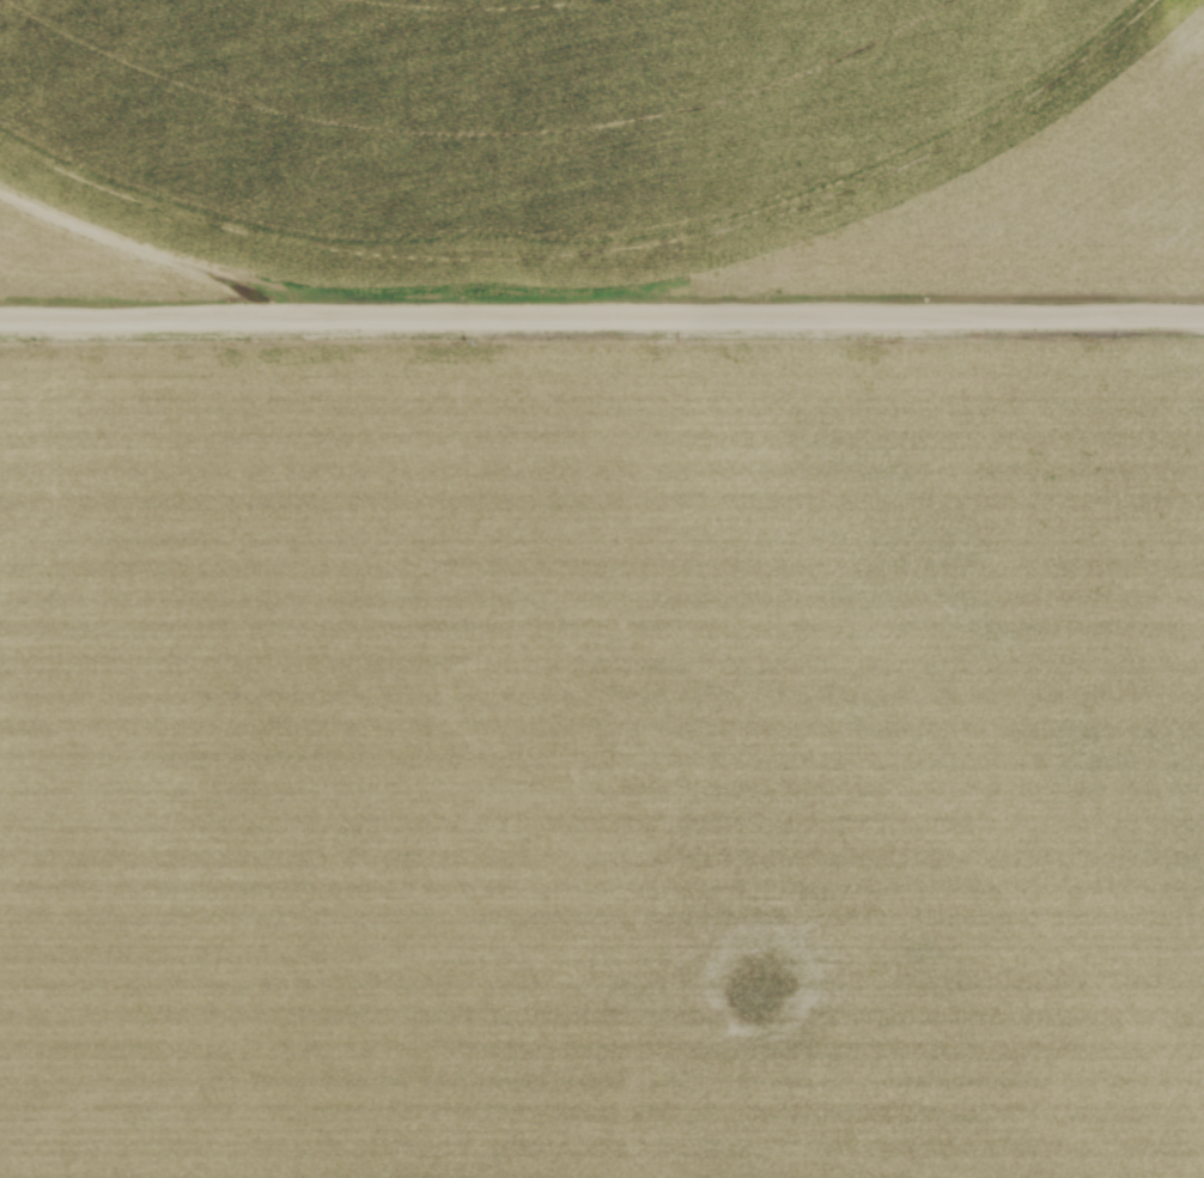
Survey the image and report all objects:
road: (602, 320)

